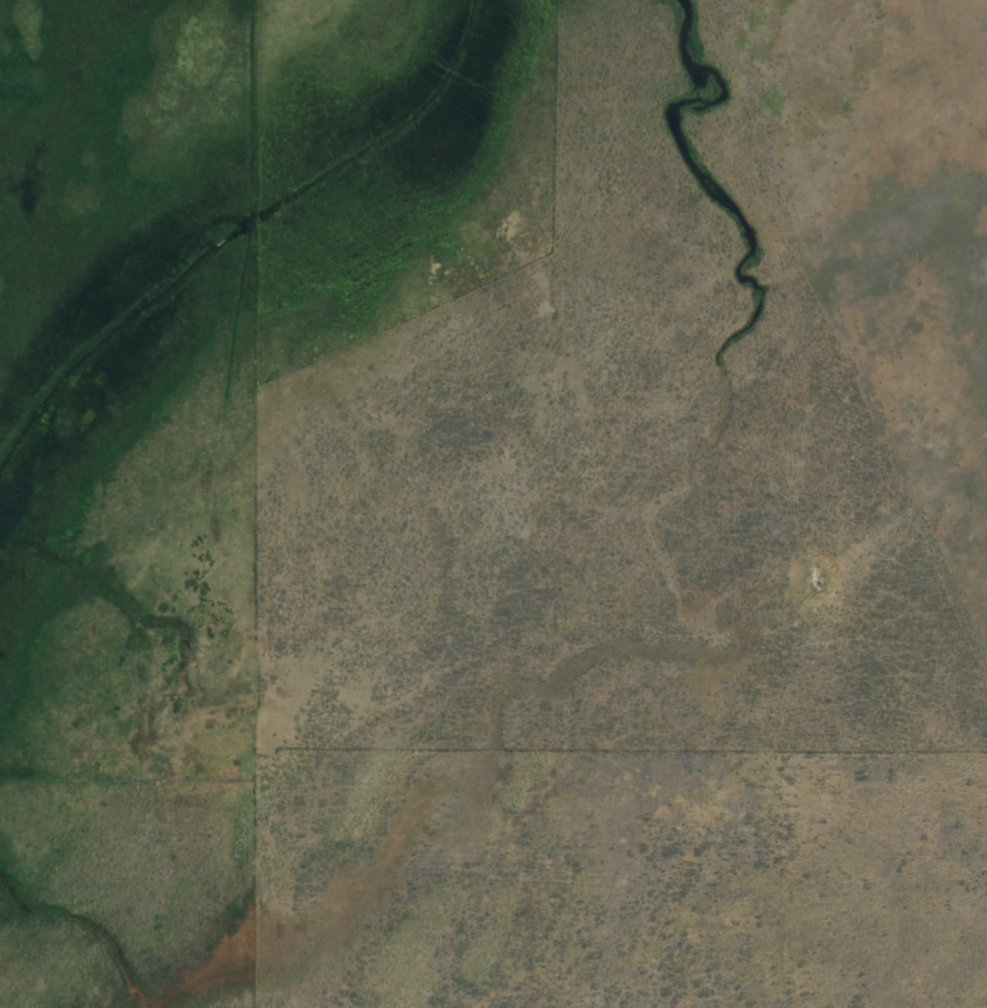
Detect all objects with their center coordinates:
crop: (432, 408)

